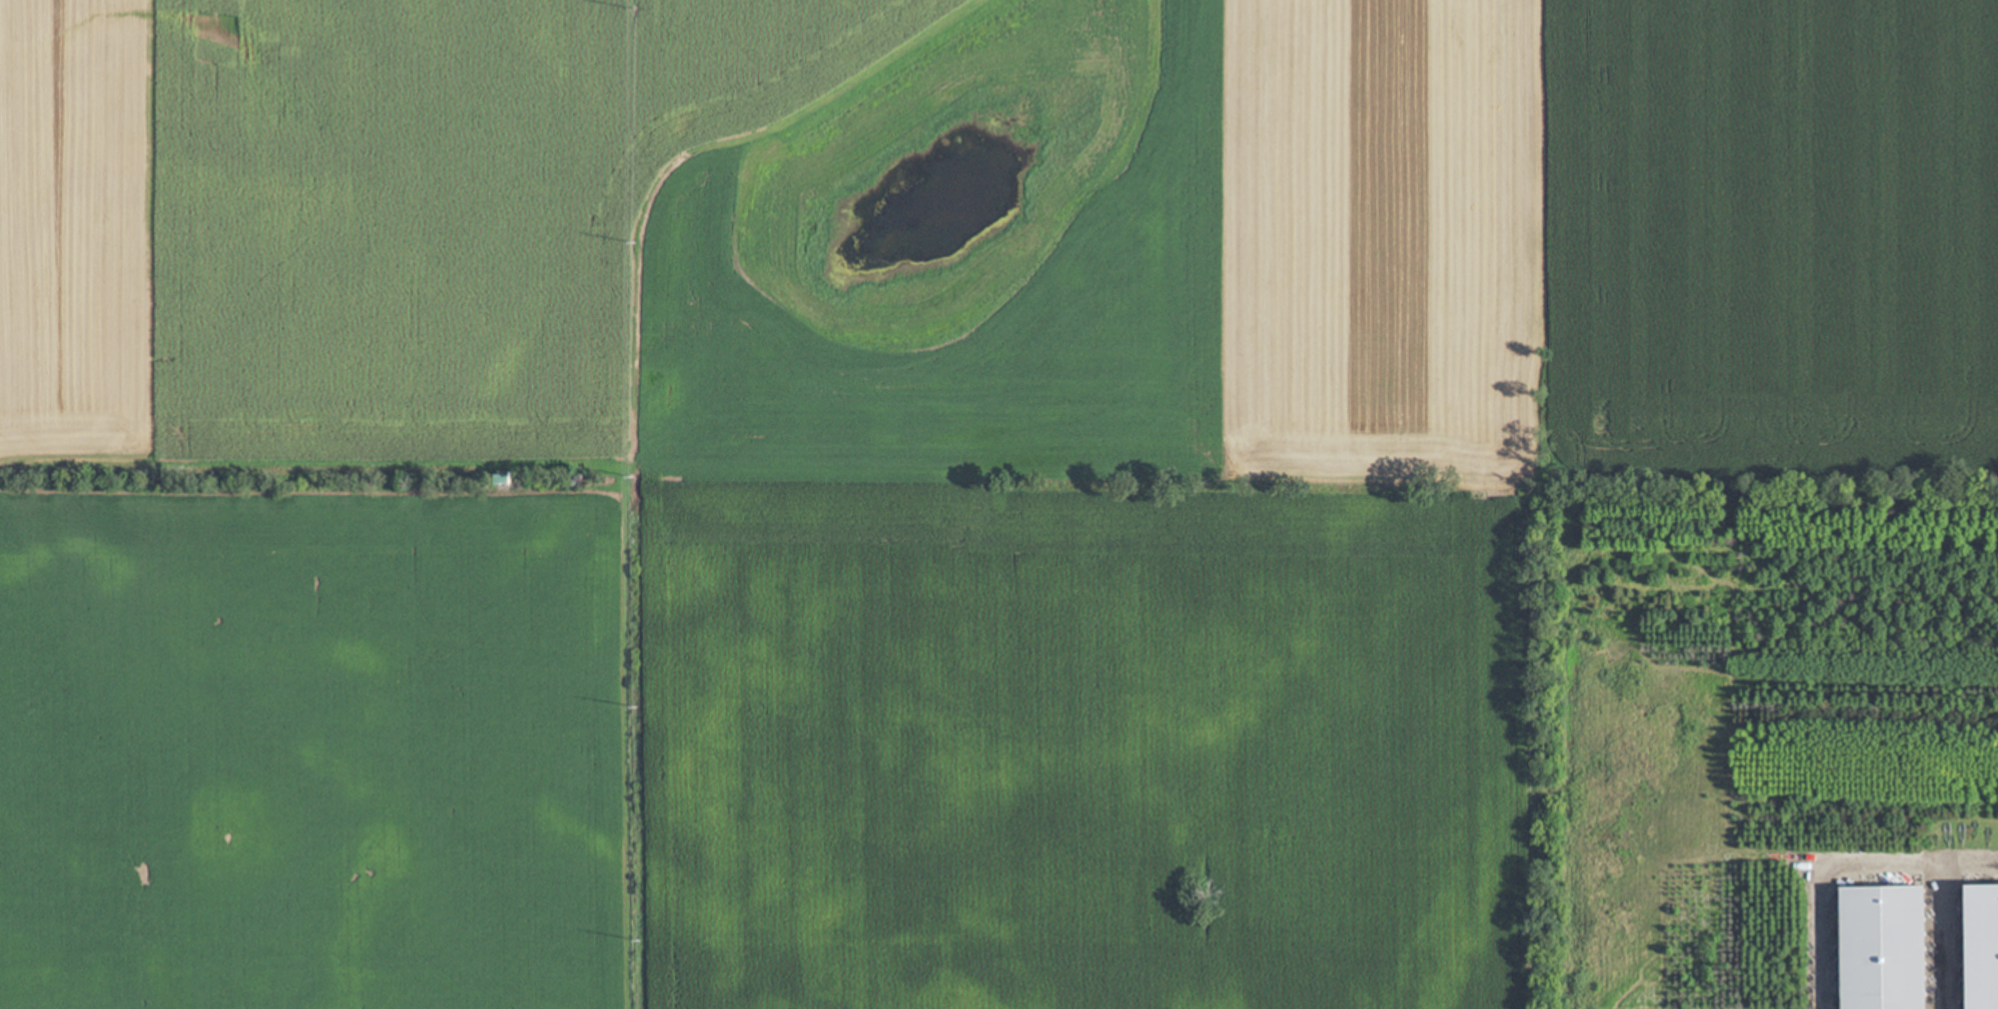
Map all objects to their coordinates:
building: (1987, 945)
building: (1892, 947)

